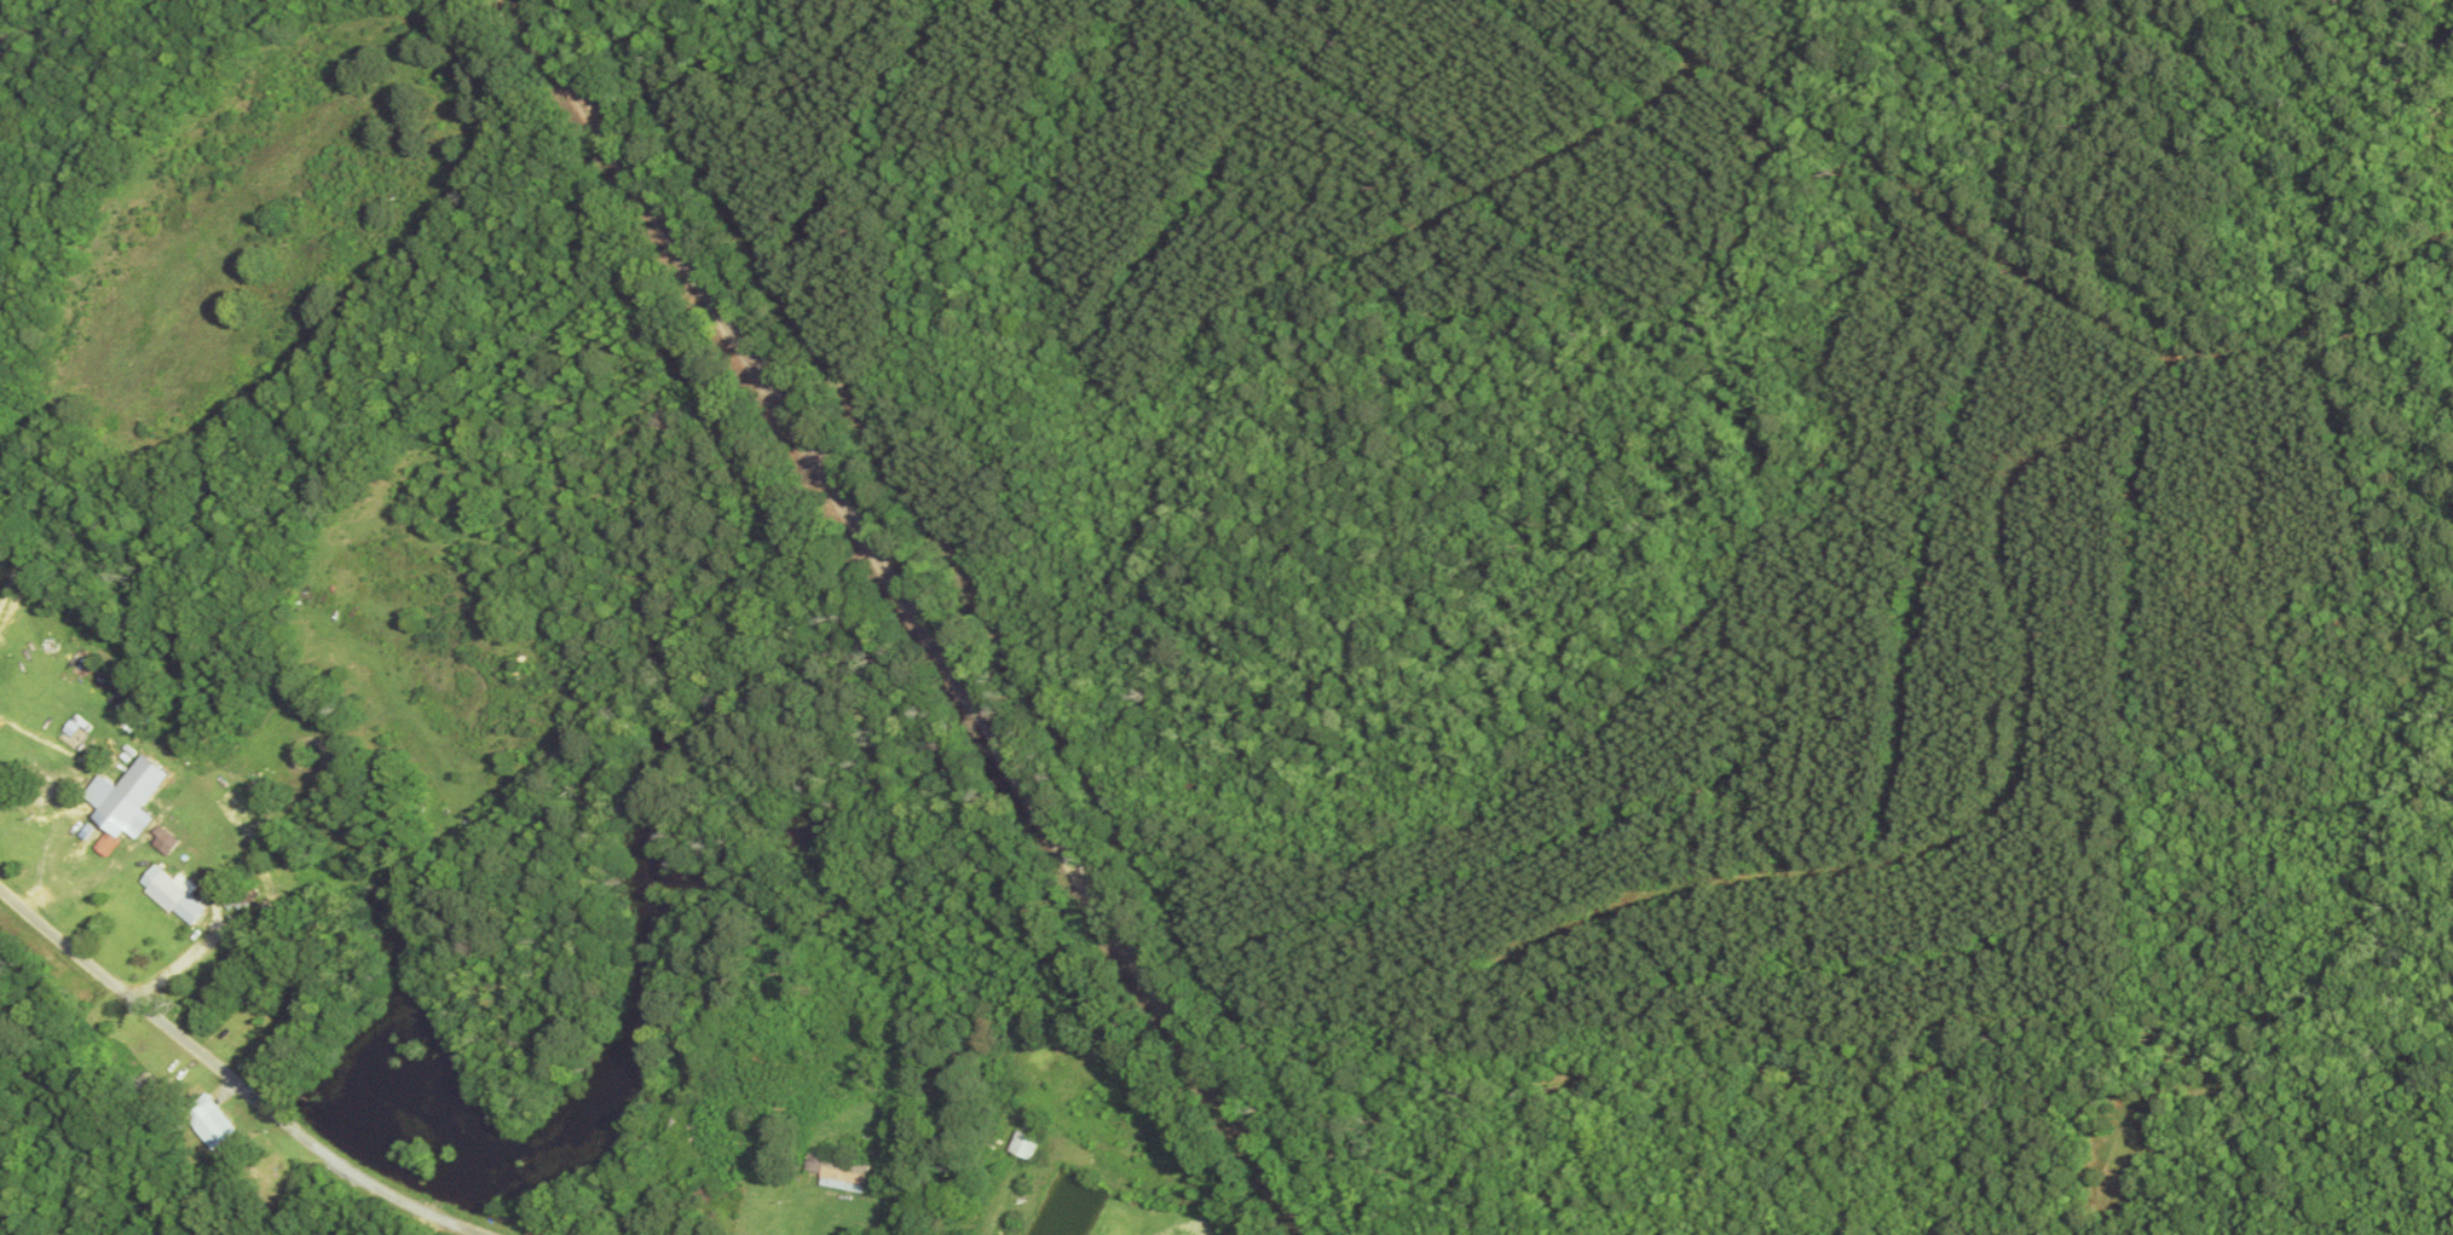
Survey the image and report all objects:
railway: (918, 608)
building: (119, 833)
building: (178, 895)
building: (213, 1123)
building: (1029, 1145)
building: (842, 1173)

